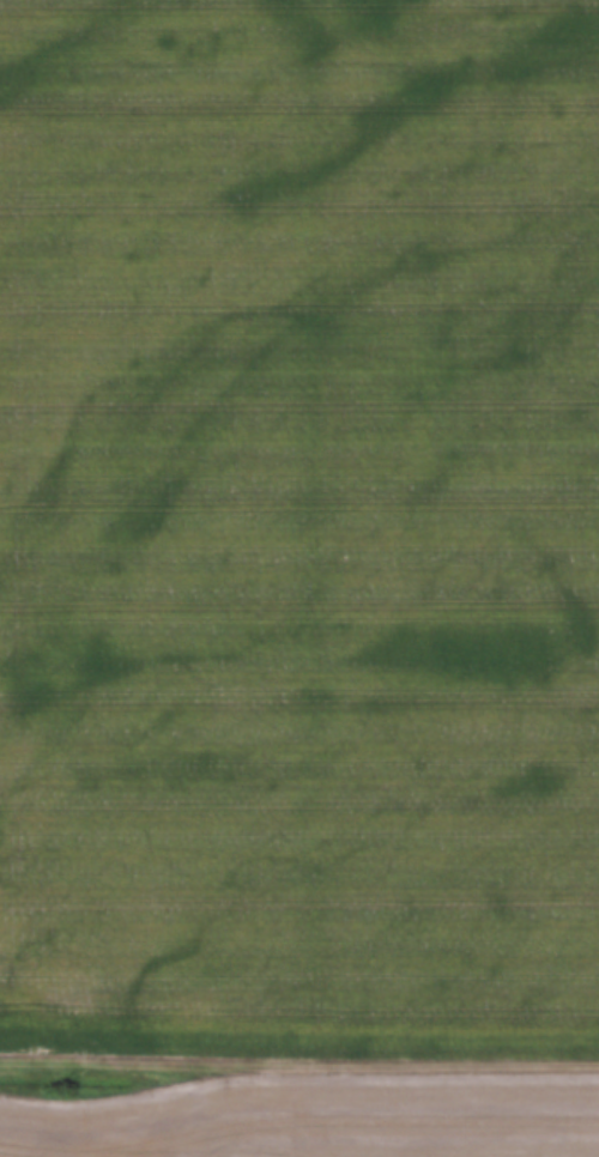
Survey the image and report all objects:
road: (298, 1065)

